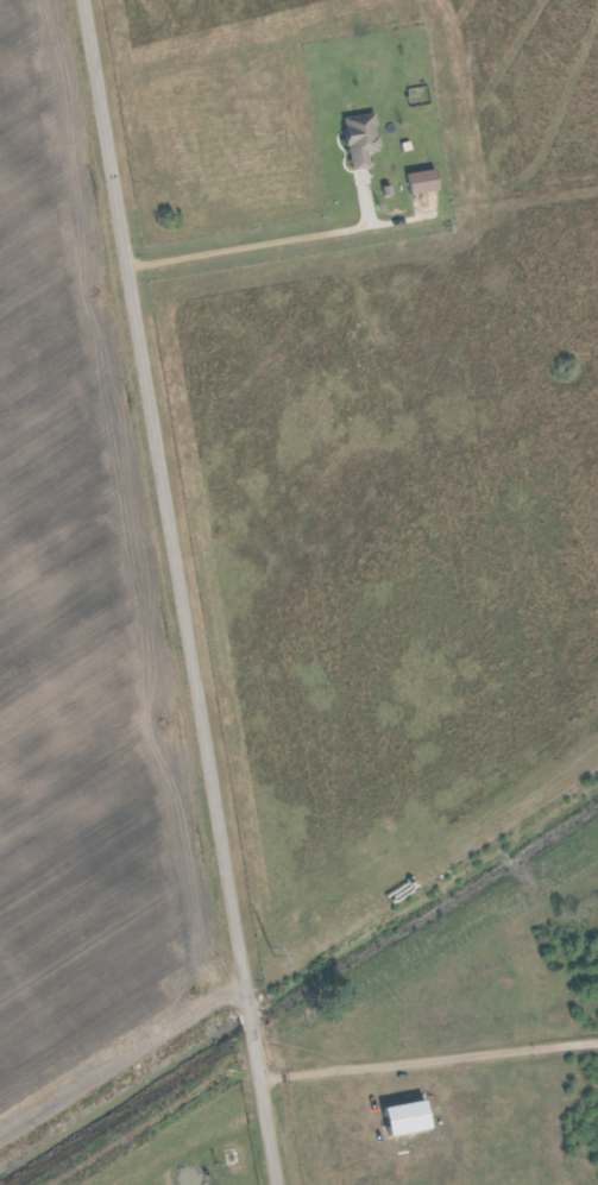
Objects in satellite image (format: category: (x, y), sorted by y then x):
building: (363, 139)
building: (424, 182)
road: (182, 592)
power tower: (314, 931)
road: (430, 1059)

